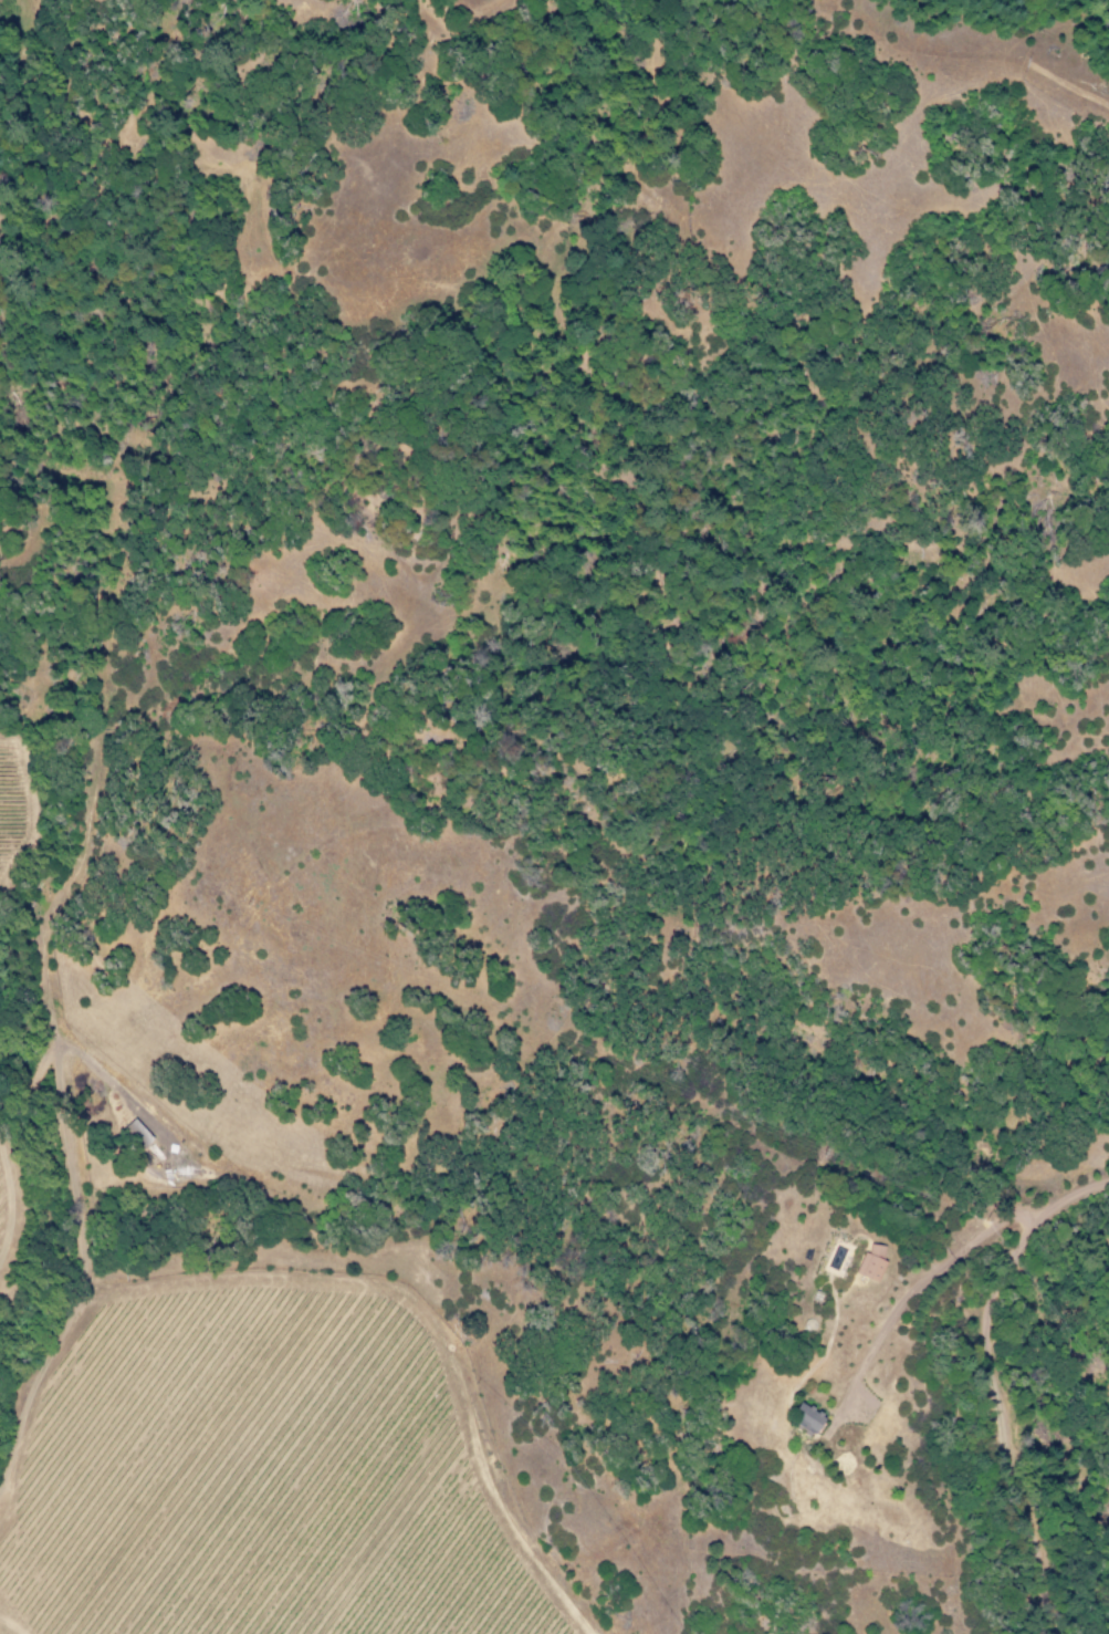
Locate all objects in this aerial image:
building: (135, 1134)
building: (868, 1263)
road: (1002, 1387)
building: (803, 1420)

